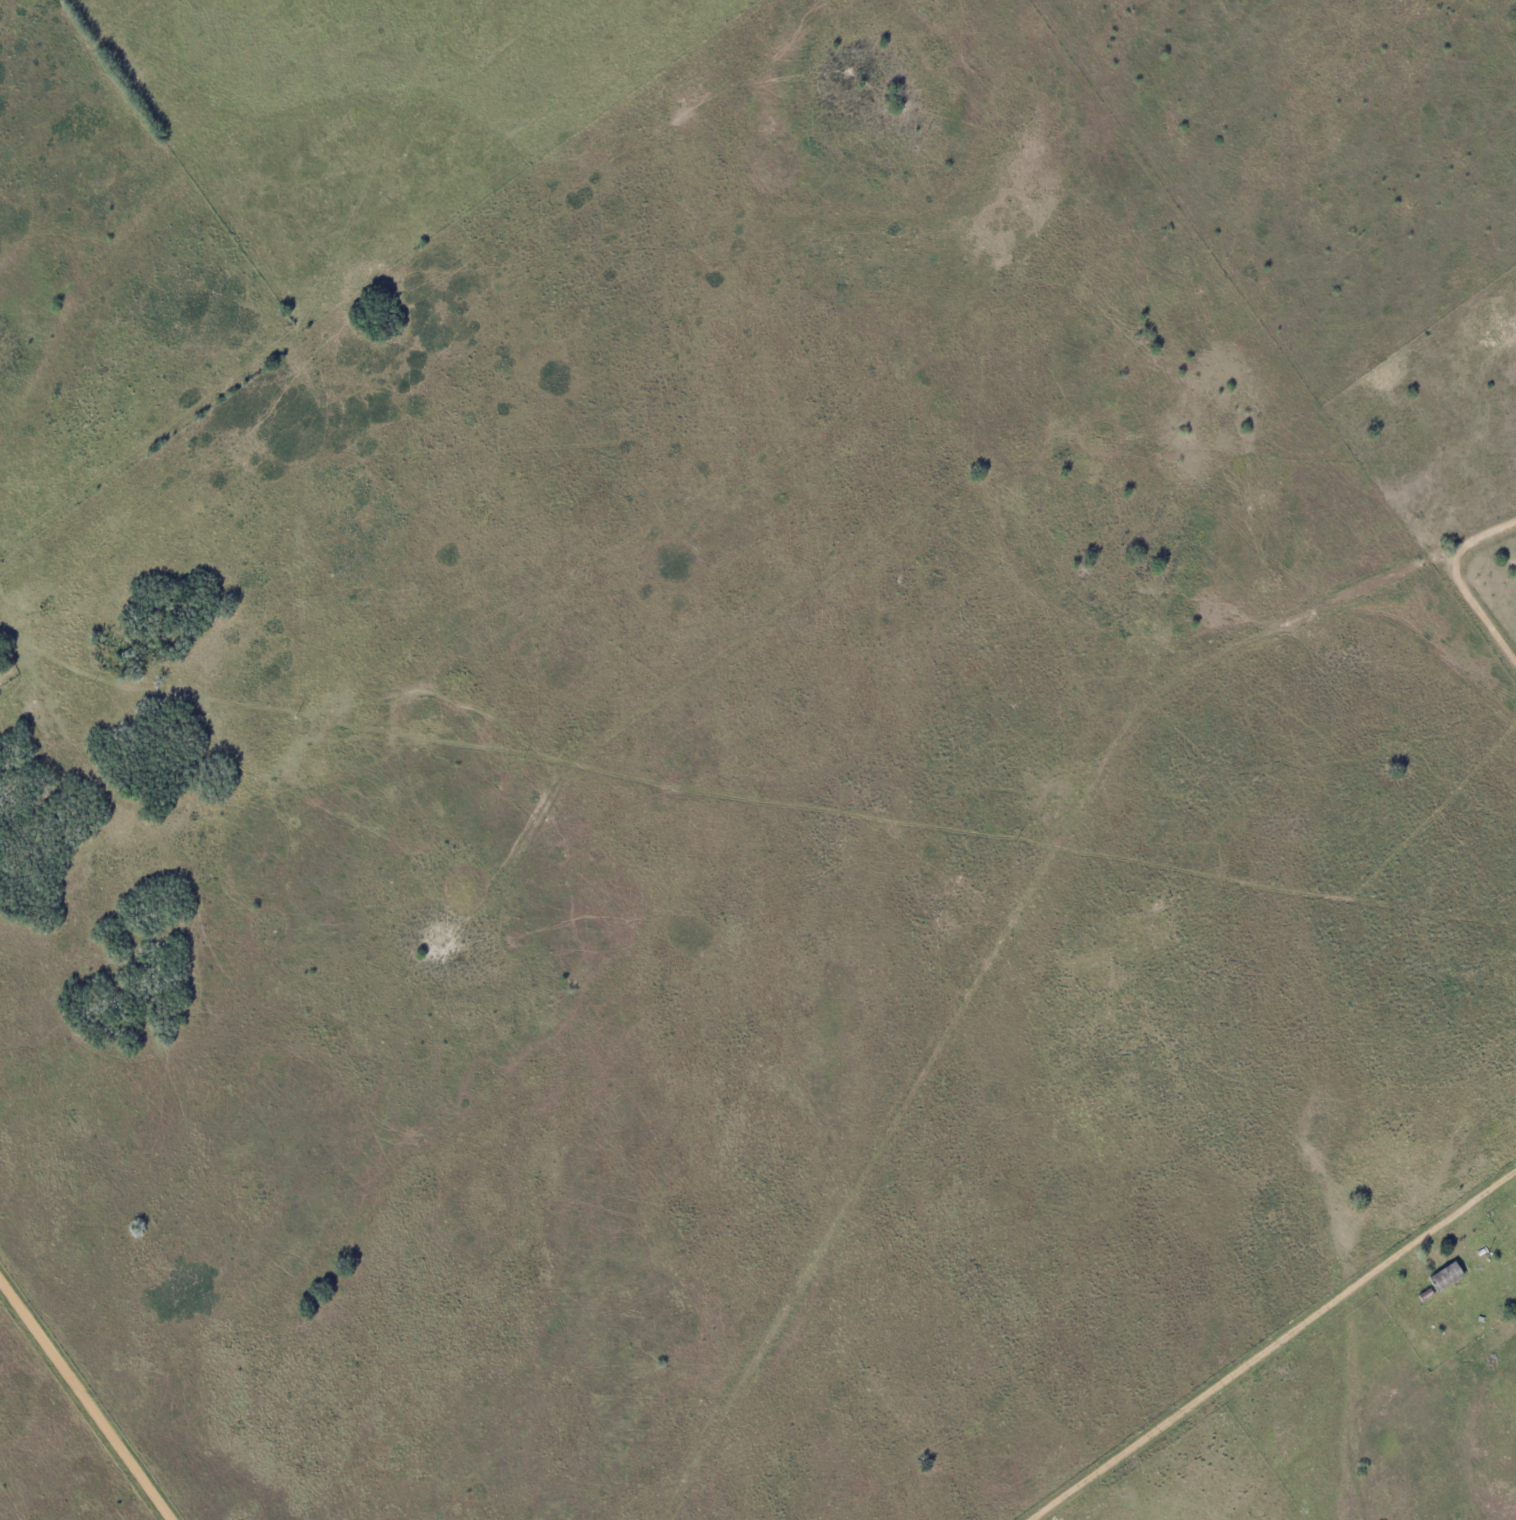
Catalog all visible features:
road: (88, 1395)

